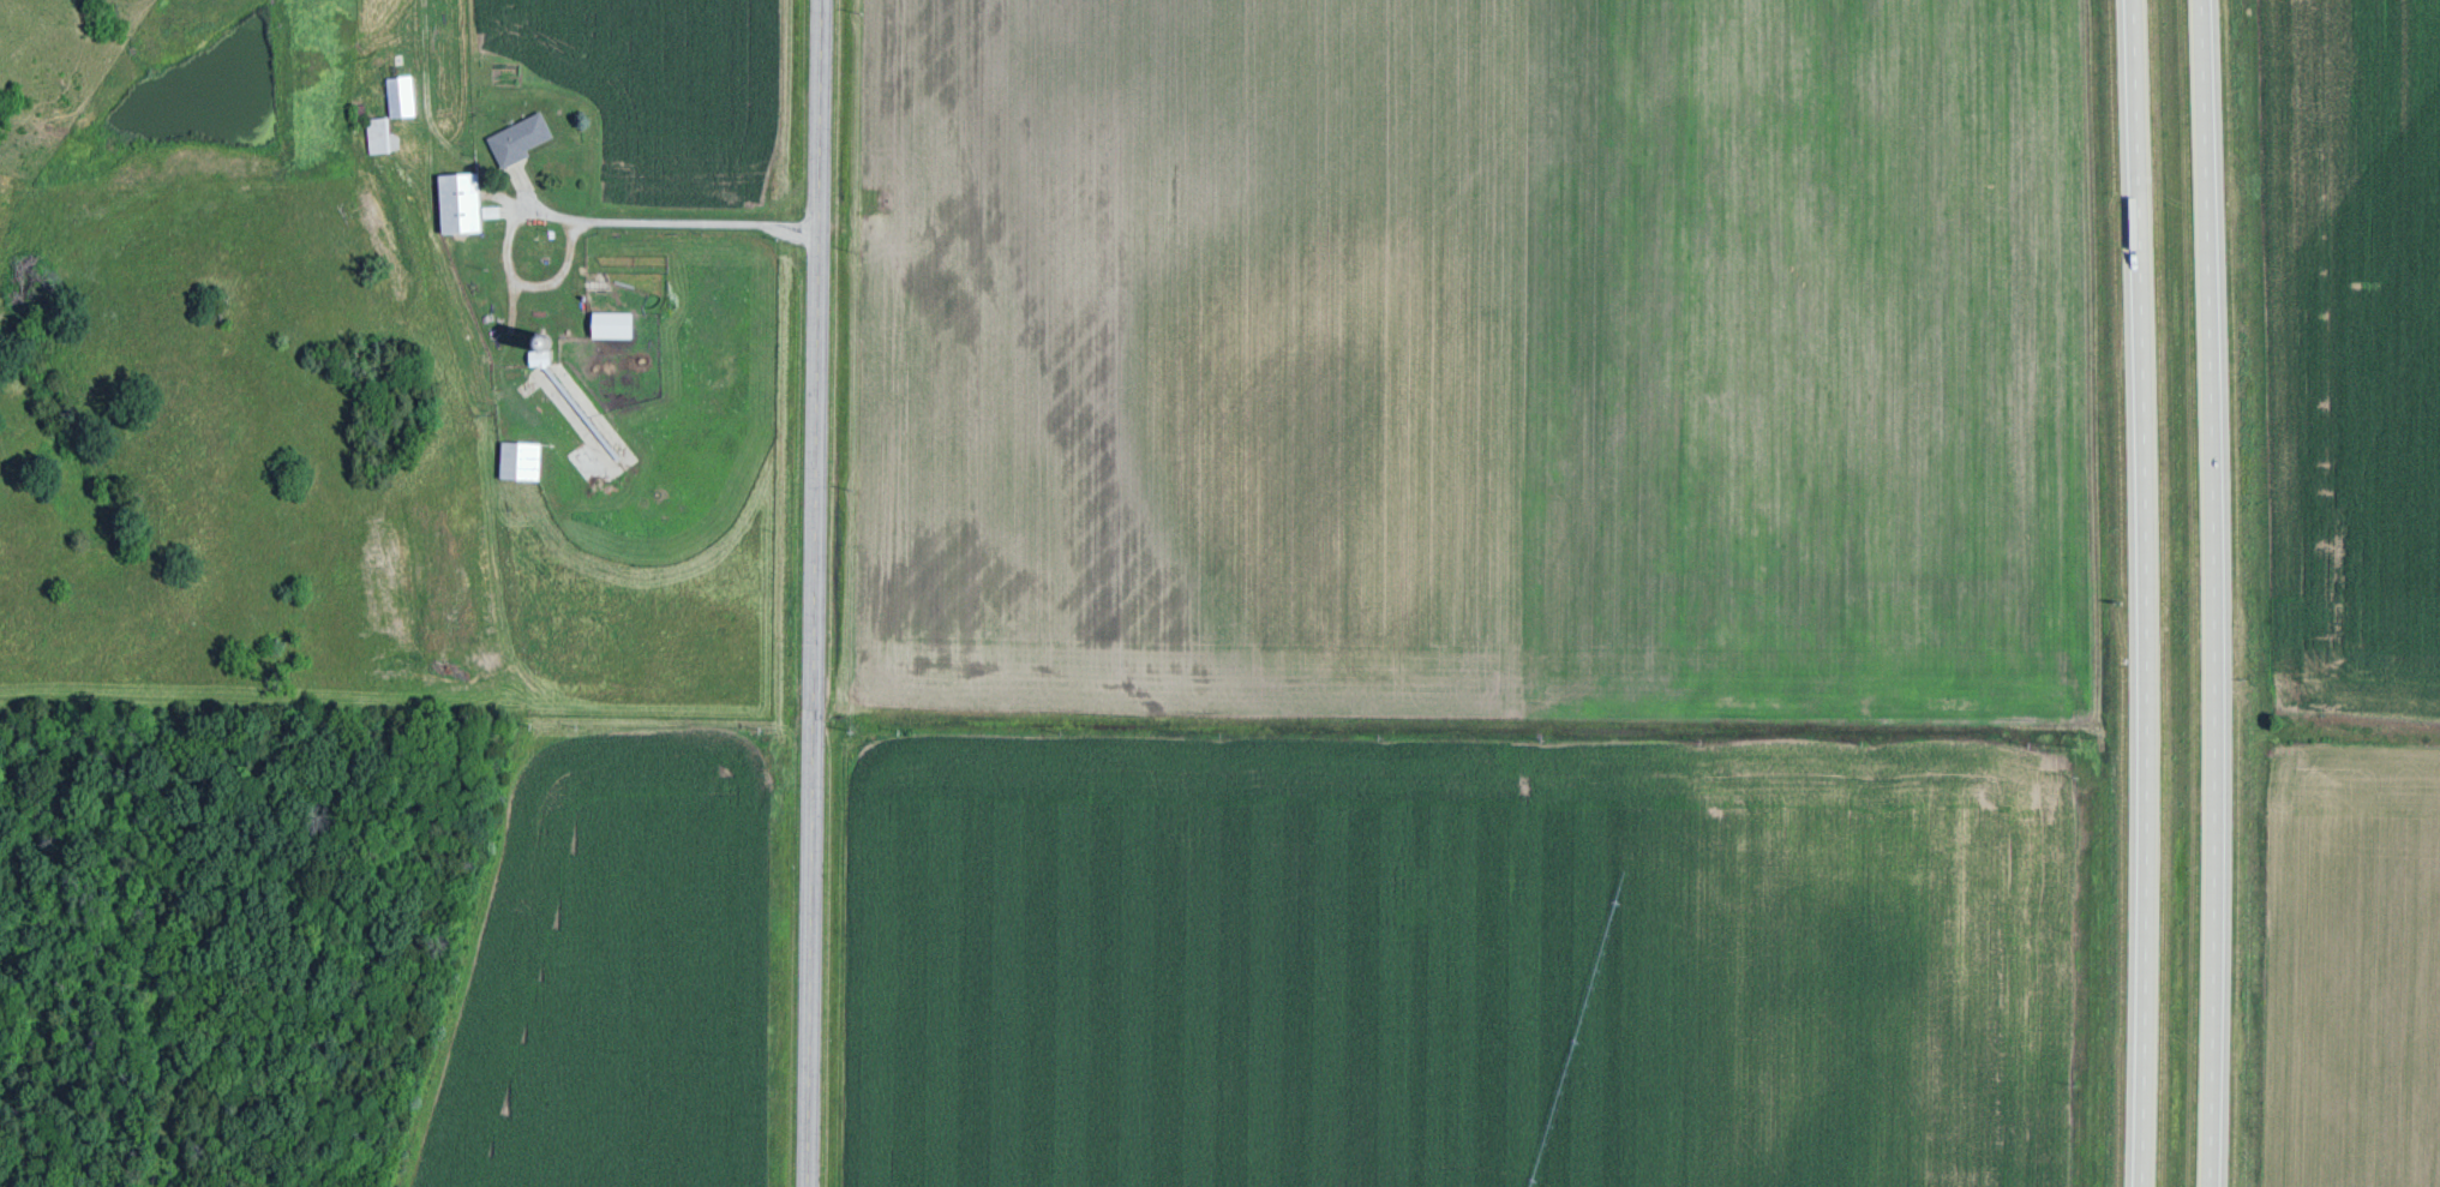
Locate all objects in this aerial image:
building: (395, 110)
building: (522, 137)
building: (464, 202)
building: (616, 323)
building: (522, 458)
road: (815, 593)
road: (2151, 593)
road: (2211, 593)

